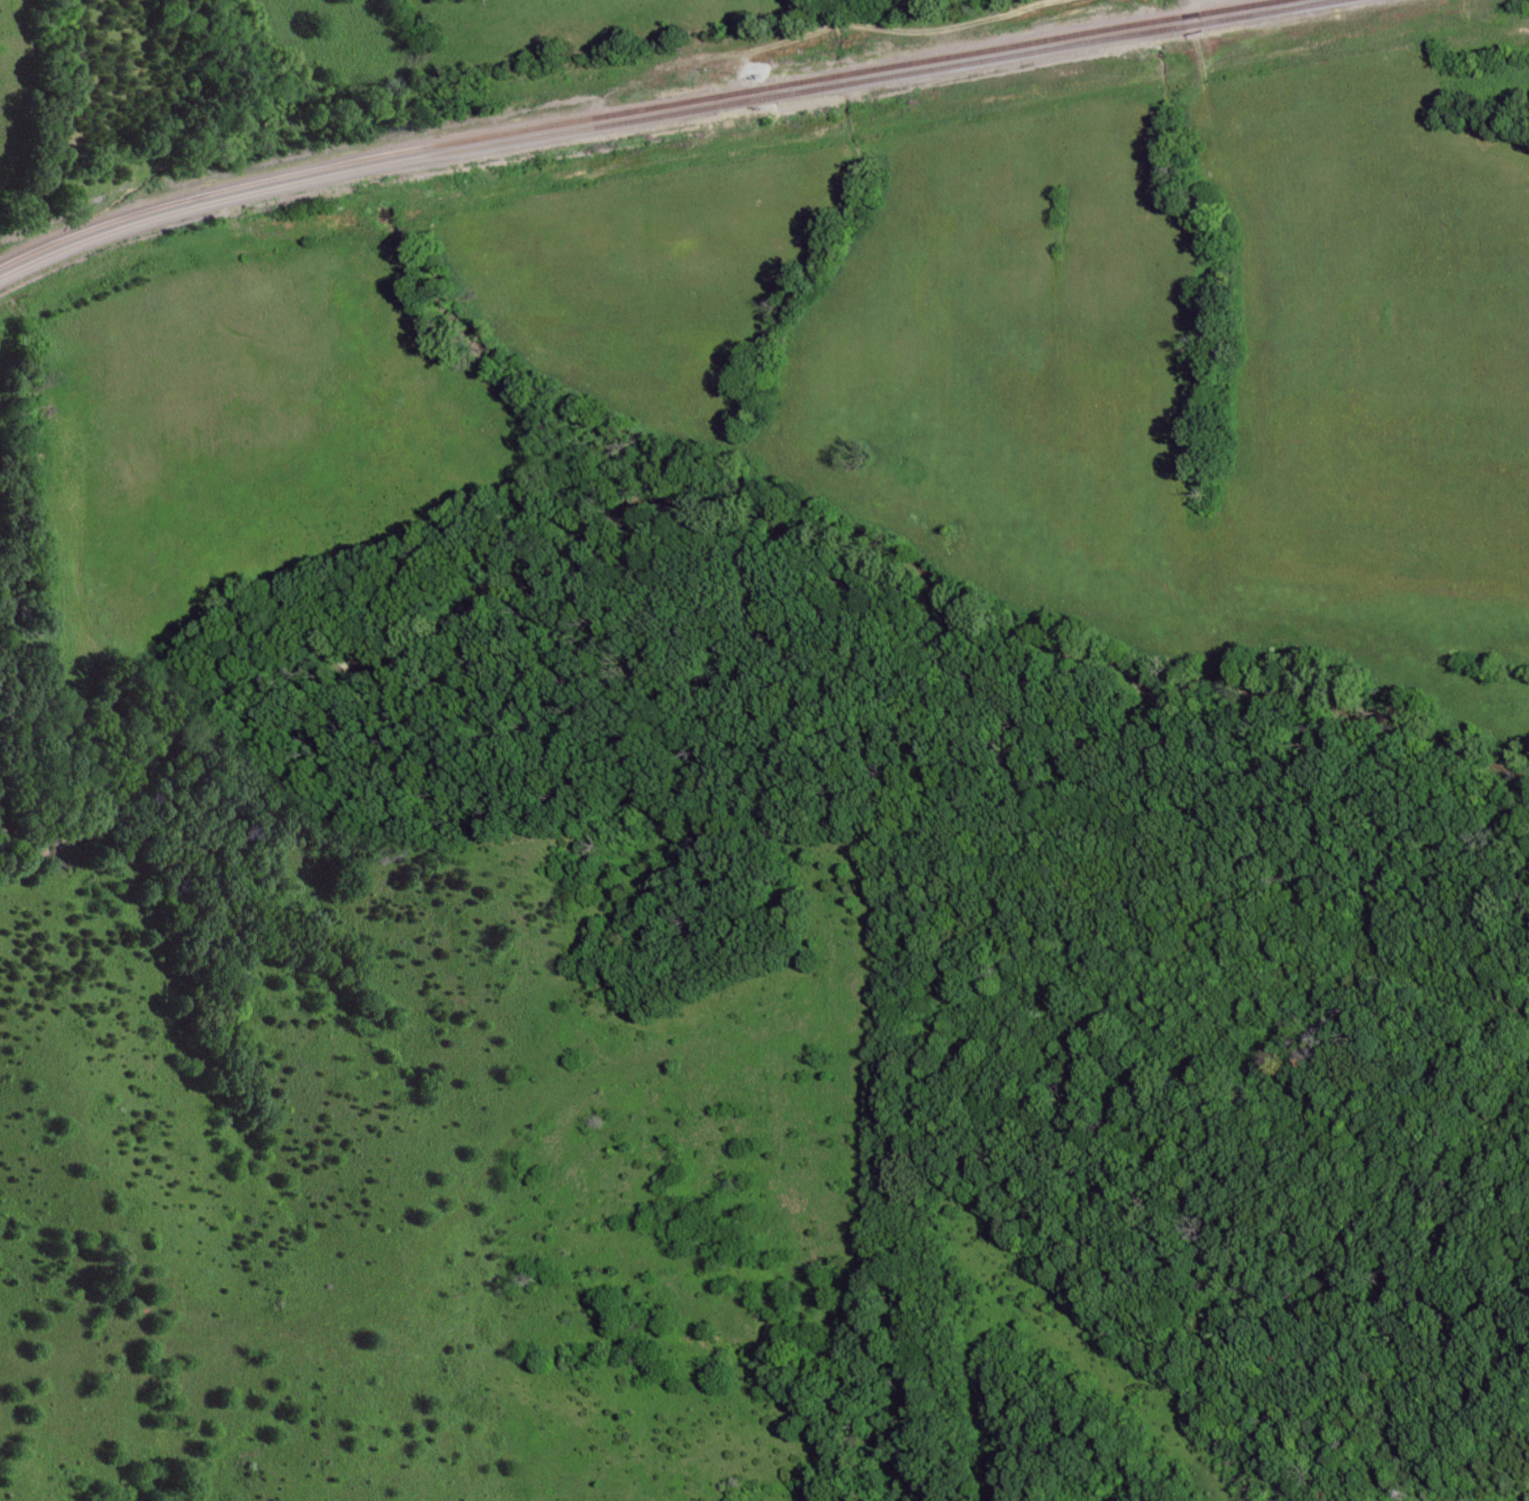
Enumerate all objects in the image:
road: (834, 28)
road: (1191, 42)
railway: (634, 112)
railway: (663, 116)

